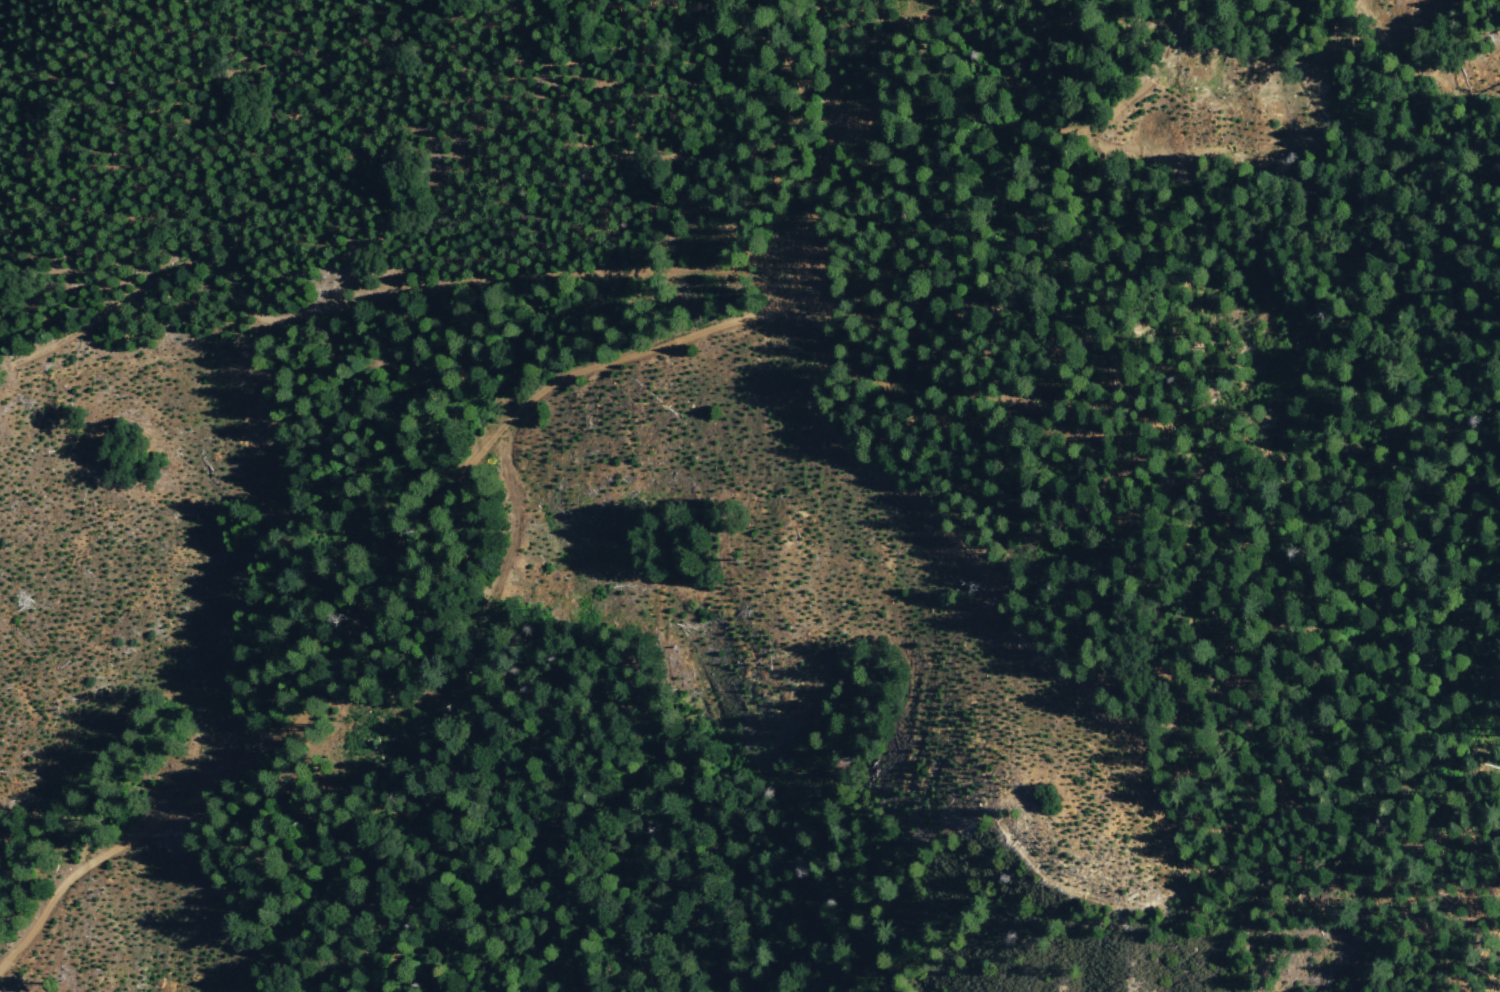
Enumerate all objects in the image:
road: (455, 468)

